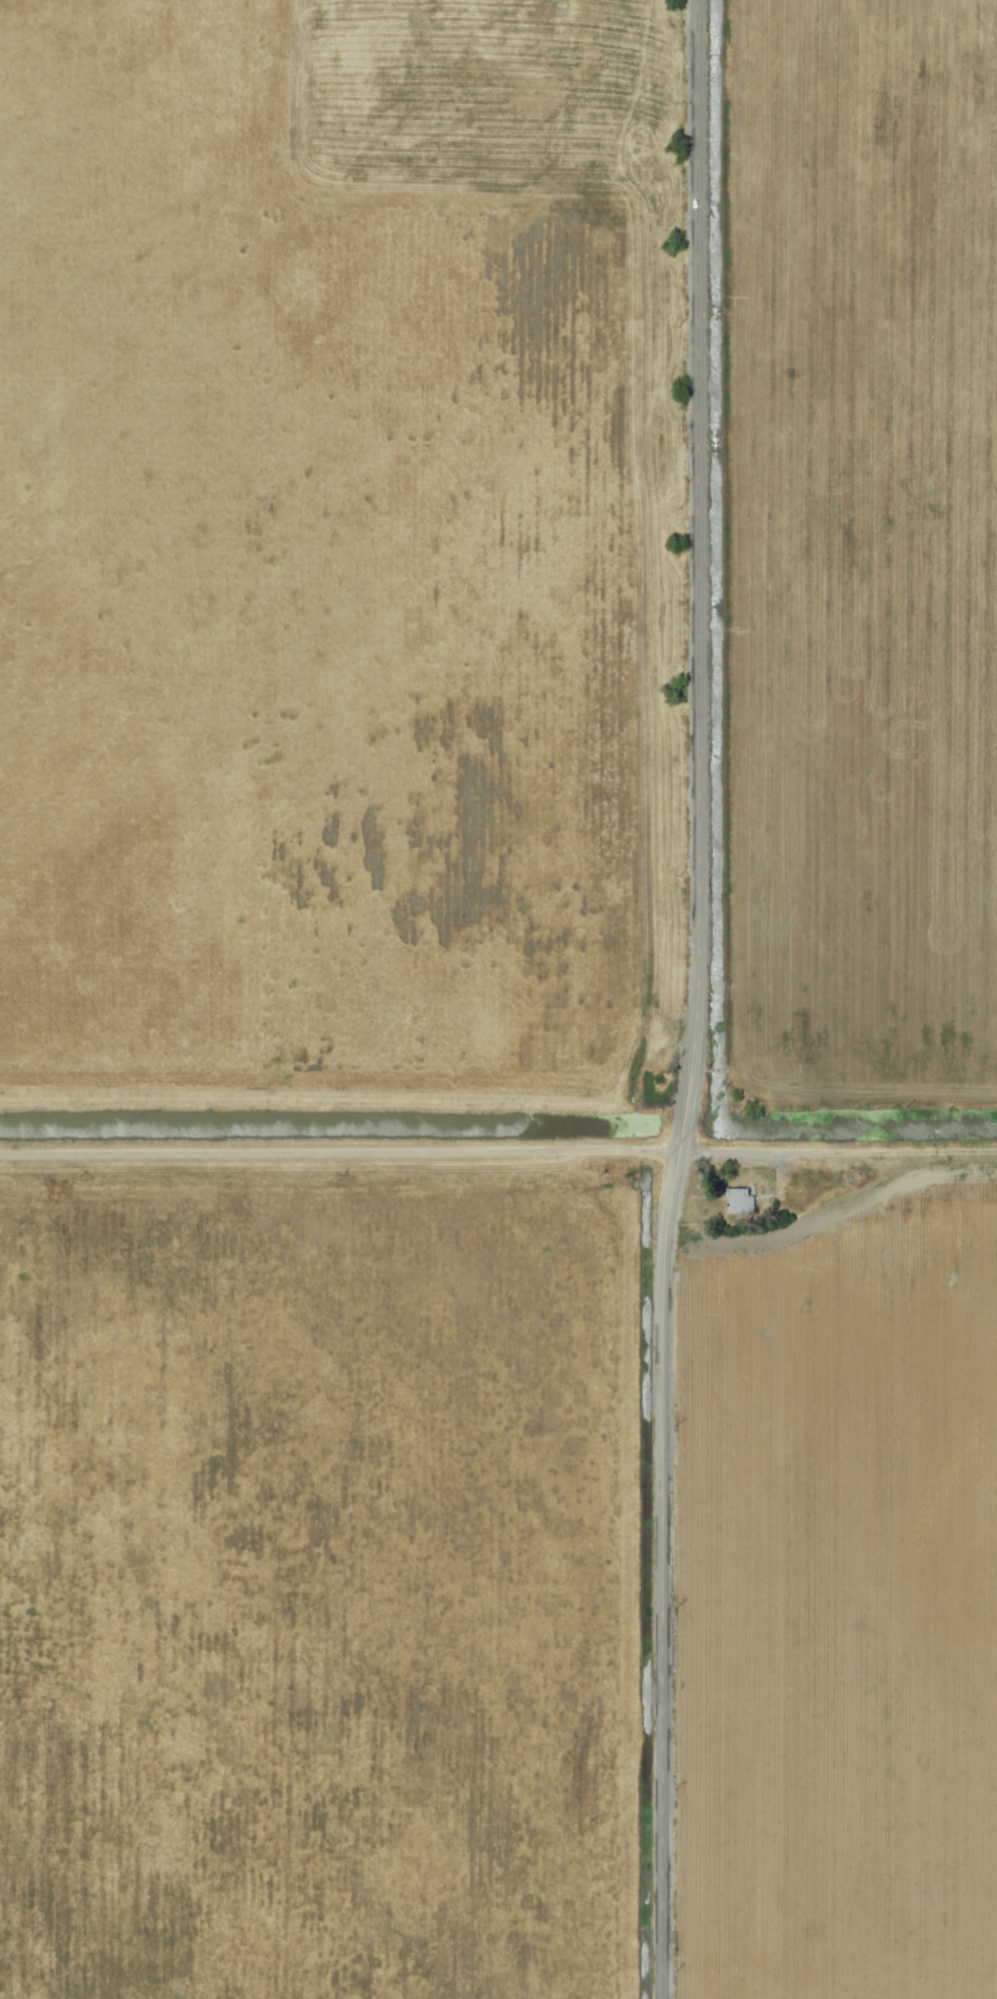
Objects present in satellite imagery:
road: (700, 1000)
building: (737, 1200)
crop: (845, 1578)

